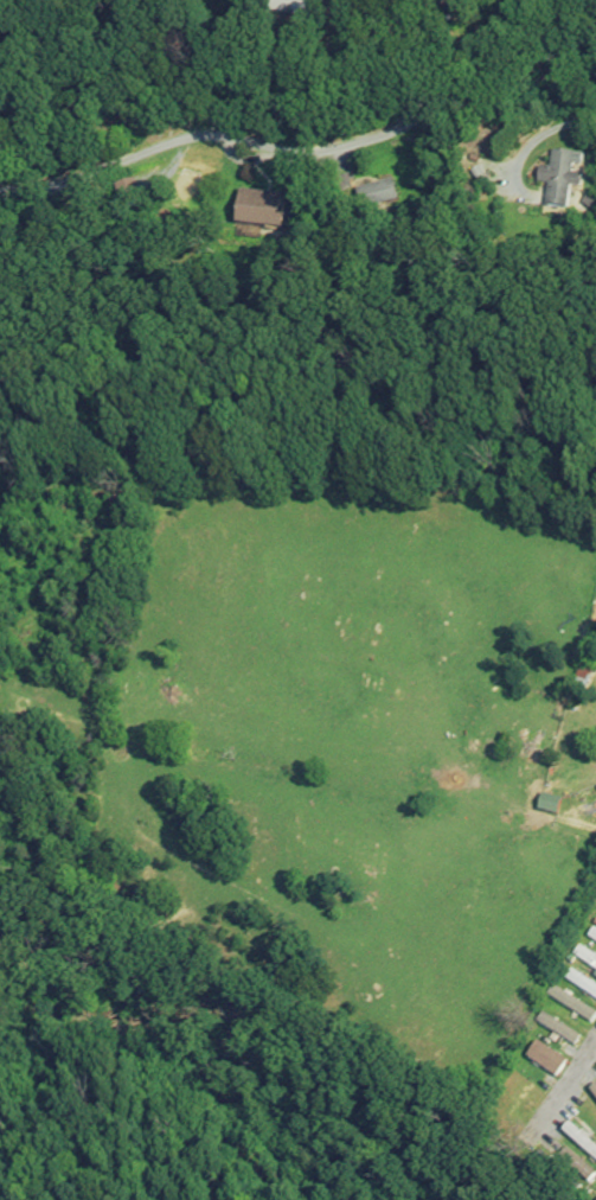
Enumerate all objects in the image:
building: (296, 11)
road: (264, 145)
building: (564, 178)
building: (129, 194)
building: (378, 196)
building: (262, 210)
building: (589, 644)
building: (584, 679)
building: (551, 805)
road: (579, 825)
building: (587, 958)
building: (582, 985)
building: (575, 1007)
road: (572, 1079)
building: (521, 1092)
building: (517, 1106)

